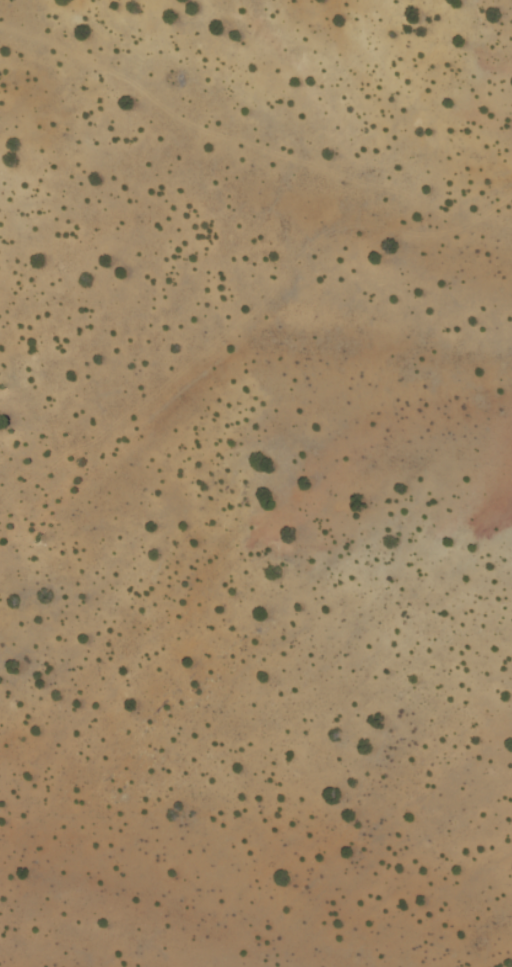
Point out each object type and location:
road: (474, 950)

